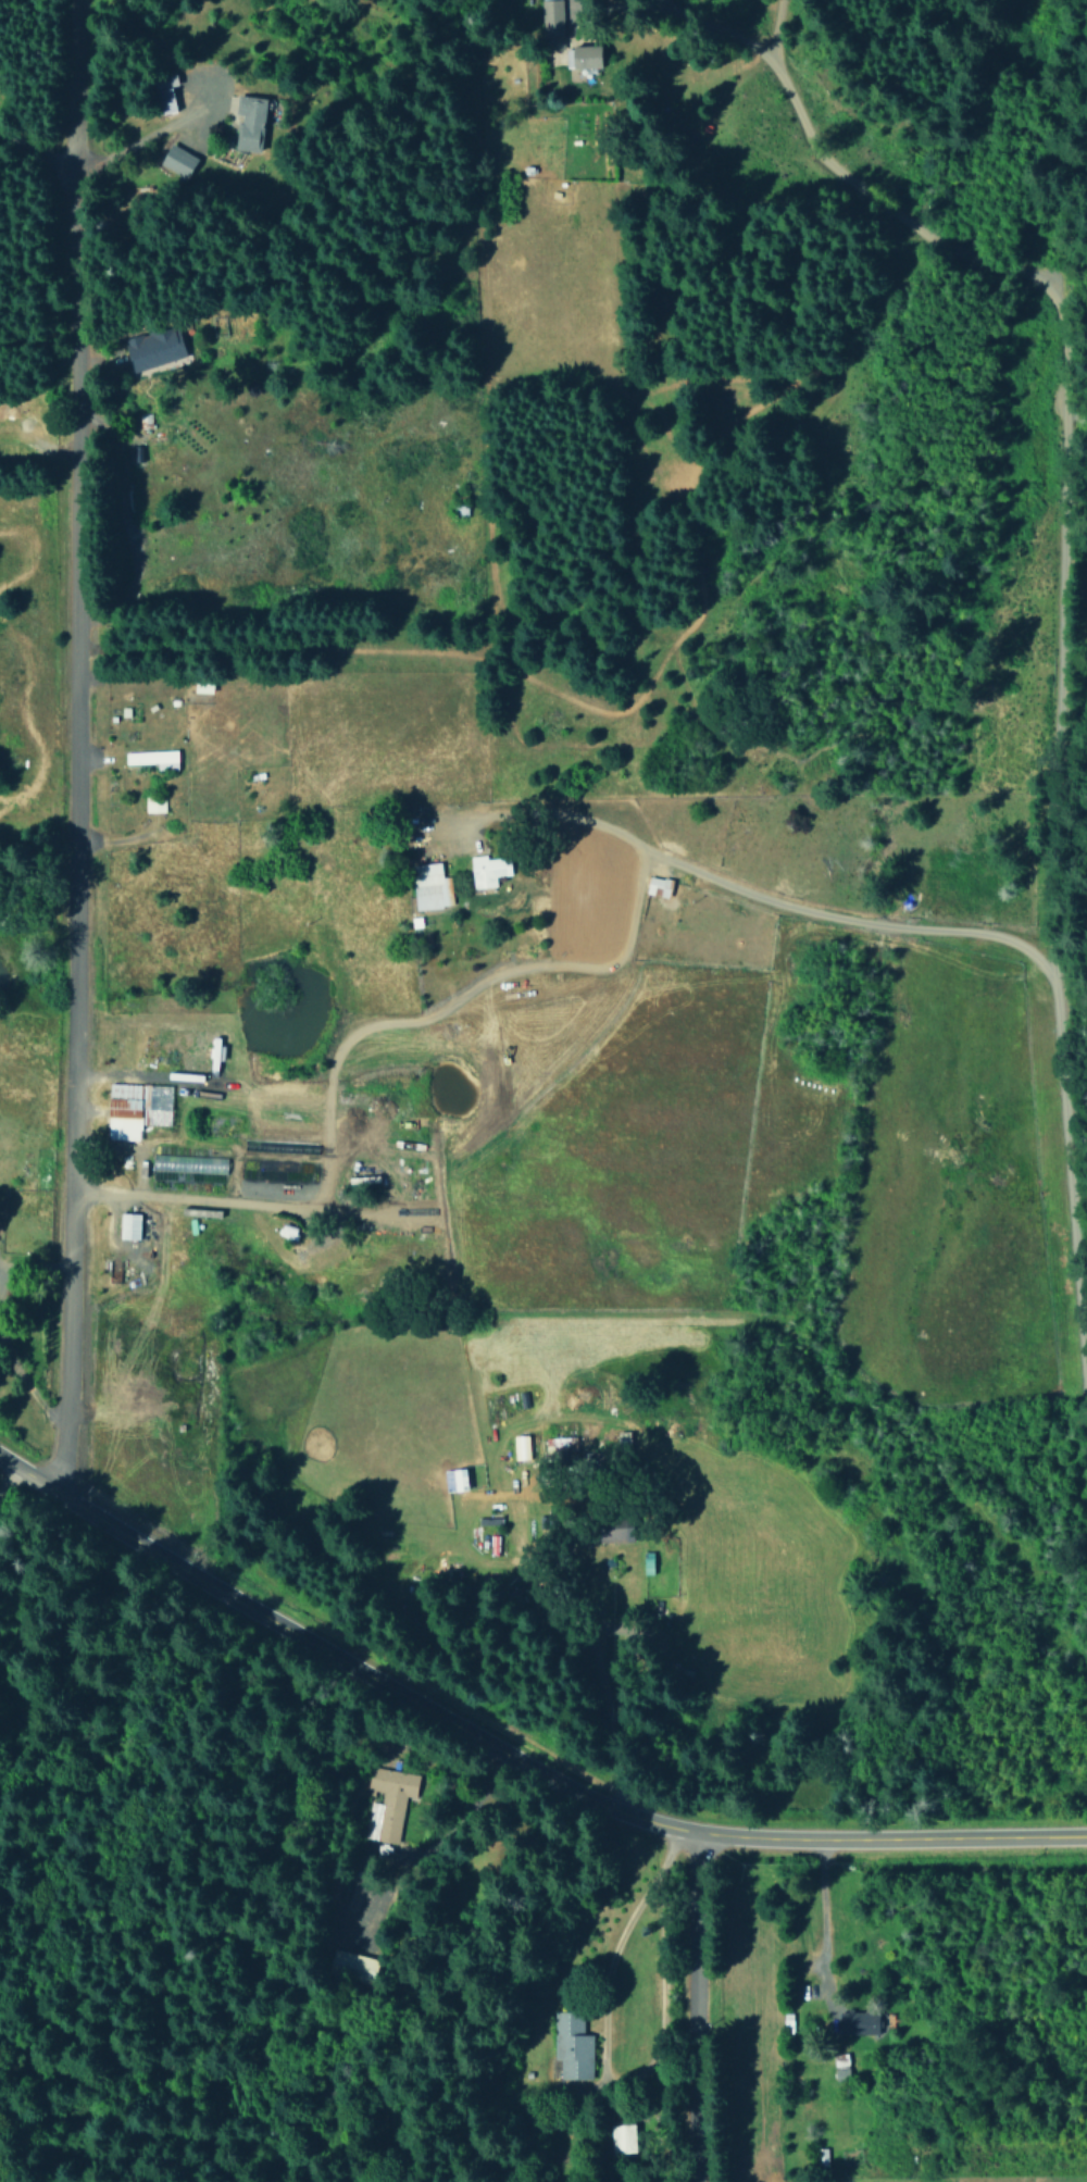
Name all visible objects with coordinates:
building: (551, 18)
building: (163, 100)
building: (249, 122)
building: (177, 160)
building: (154, 347)
road: (1060, 370)
road: (73, 746)
building: (153, 758)
building: (153, 803)
building: (487, 870)
building: (429, 886)
building: (658, 886)
road: (961, 935)
road: (328, 1070)
building: (136, 1108)
building: (128, 1225)
building: (560, 1446)
building: (520, 1447)
building: (454, 1480)
building: (615, 1530)
road: (510, 1762)
building: (388, 1803)
building: (351, 1966)
road: (688, 2011)
building: (859, 2022)
building: (572, 2046)
building: (622, 2137)

